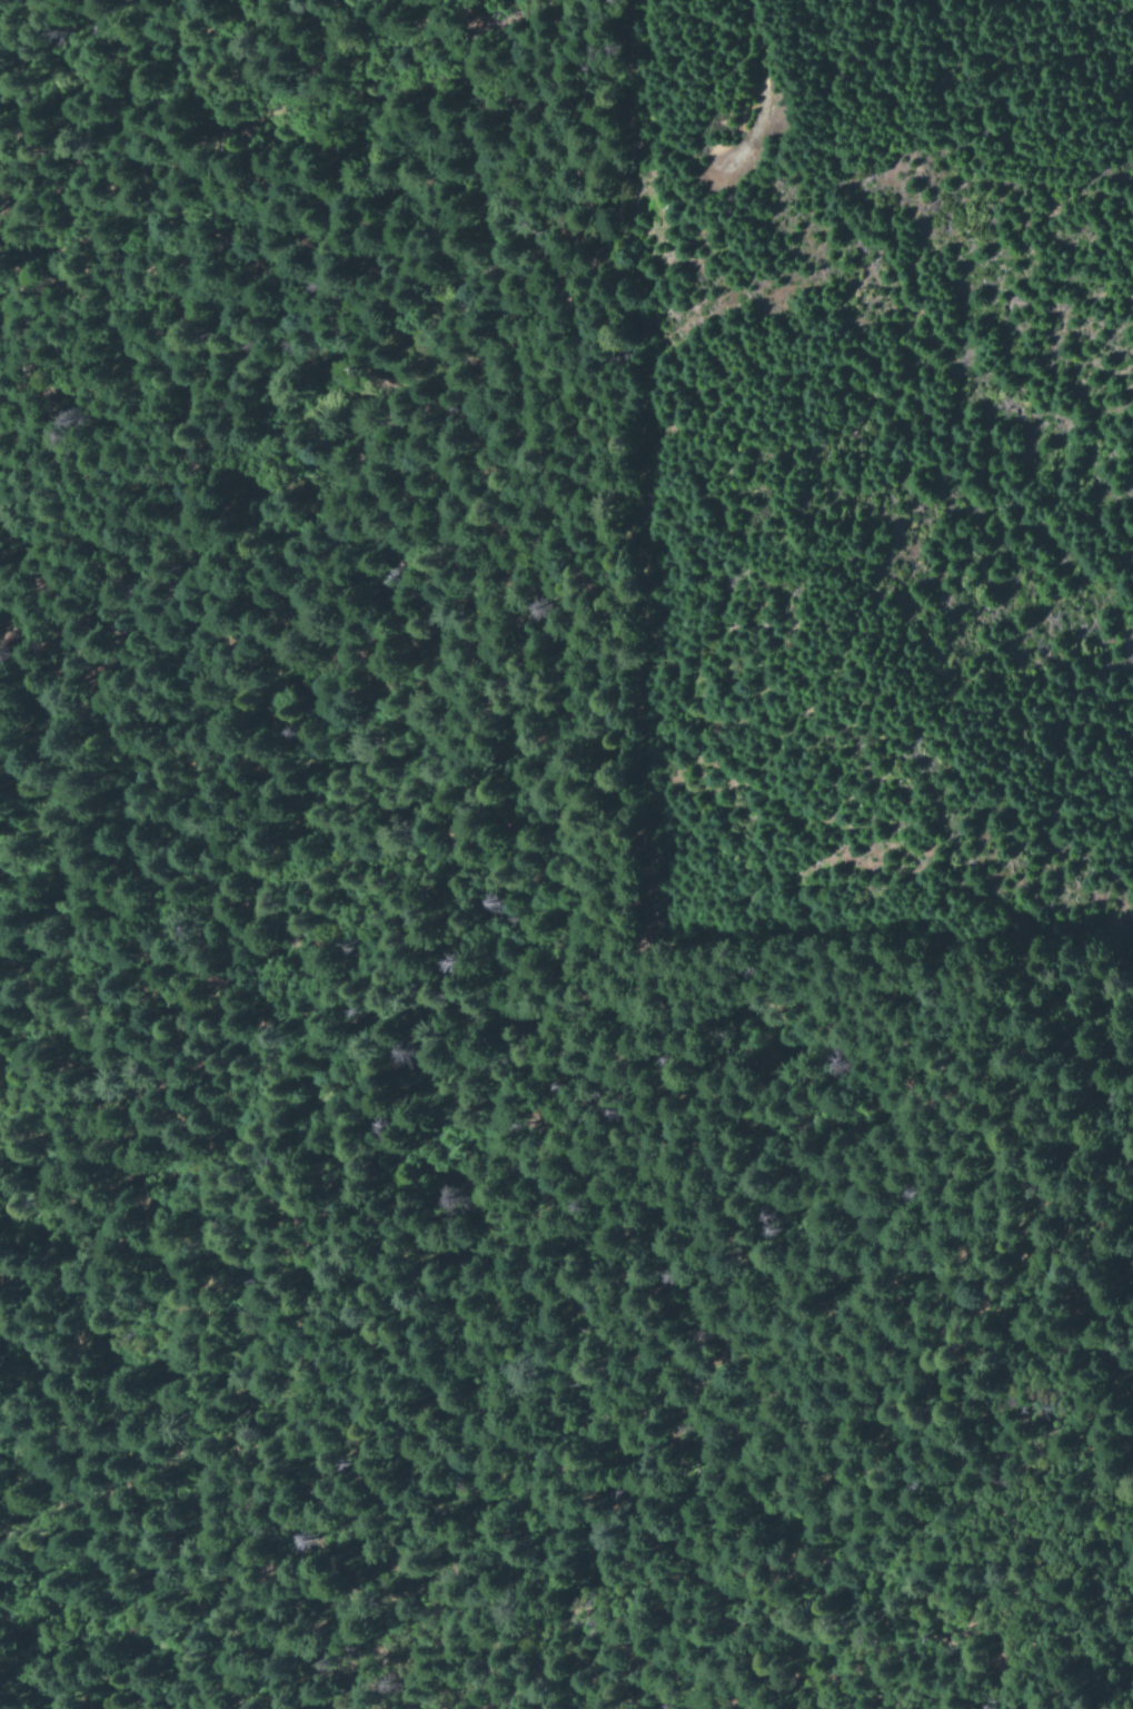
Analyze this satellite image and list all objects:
road: (743, 93)

